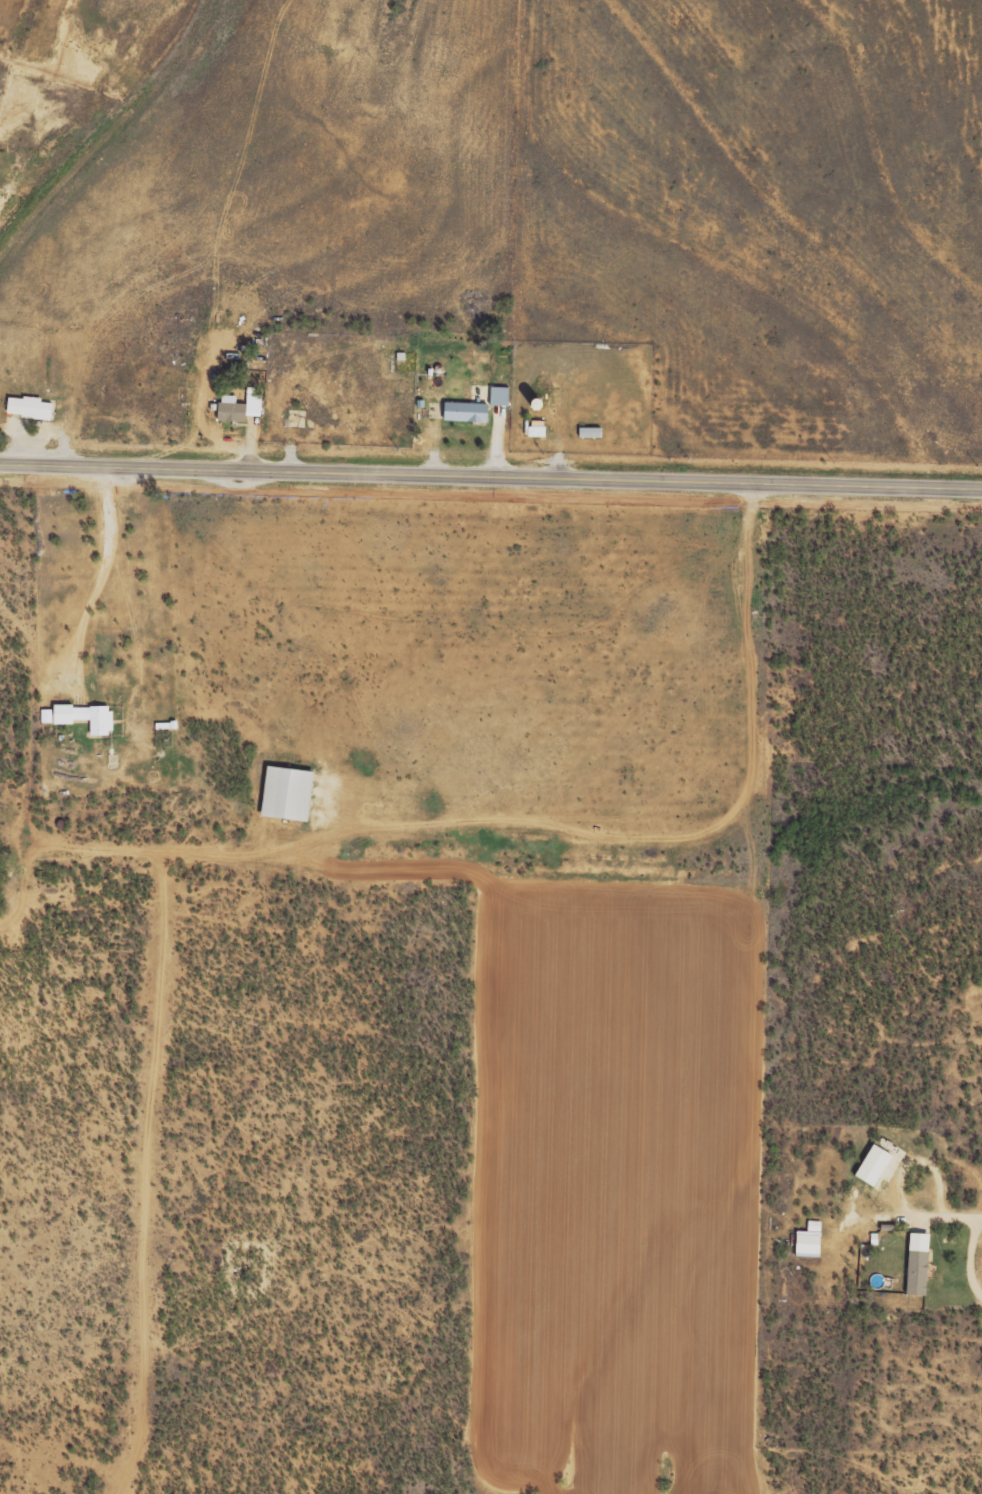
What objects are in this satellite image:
building: (30, 407)
building: (242, 407)
road: (491, 475)
building: (46, 715)
building: (86, 716)
building: (289, 793)
road: (94, 902)
building: (875, 1164)
building: (810, 1239)
building: (919, 1263)

